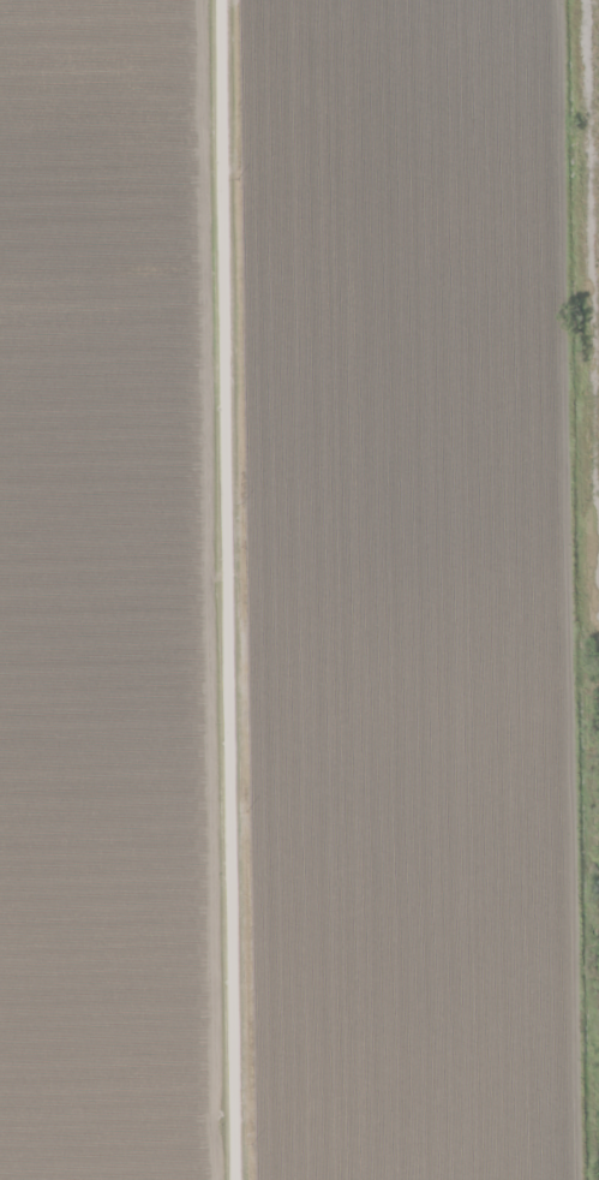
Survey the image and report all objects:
road: (230, 590)

